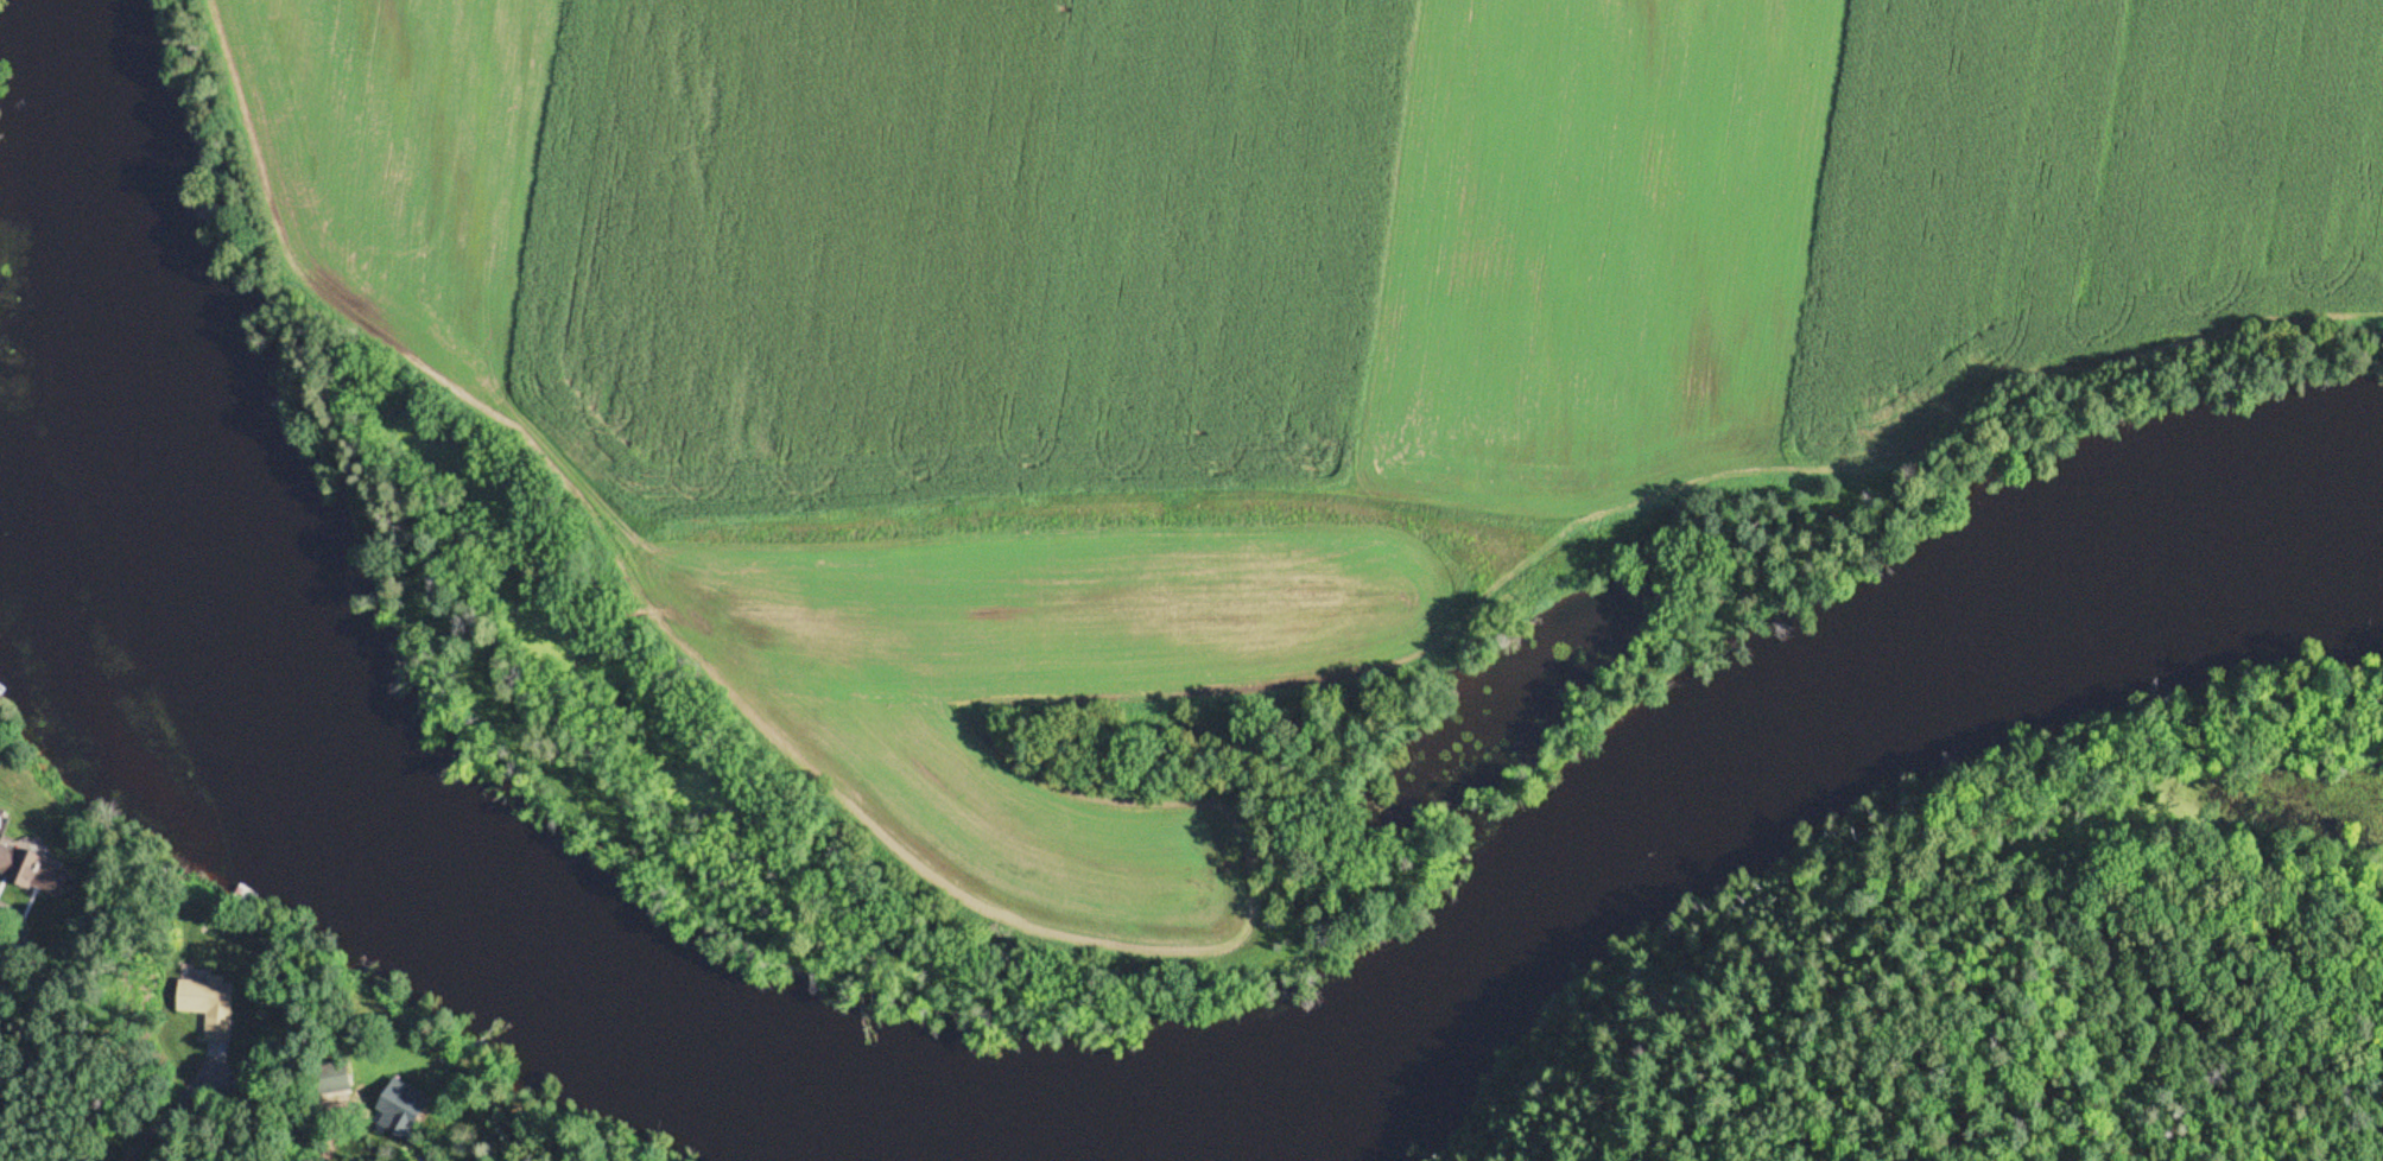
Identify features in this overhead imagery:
river: (1753, 775)
river: (366, 825)
building: (5, 858)
building: (46, 880)
building: (209, 1008)
building: (334, 1079)
building: (401, 1112)

